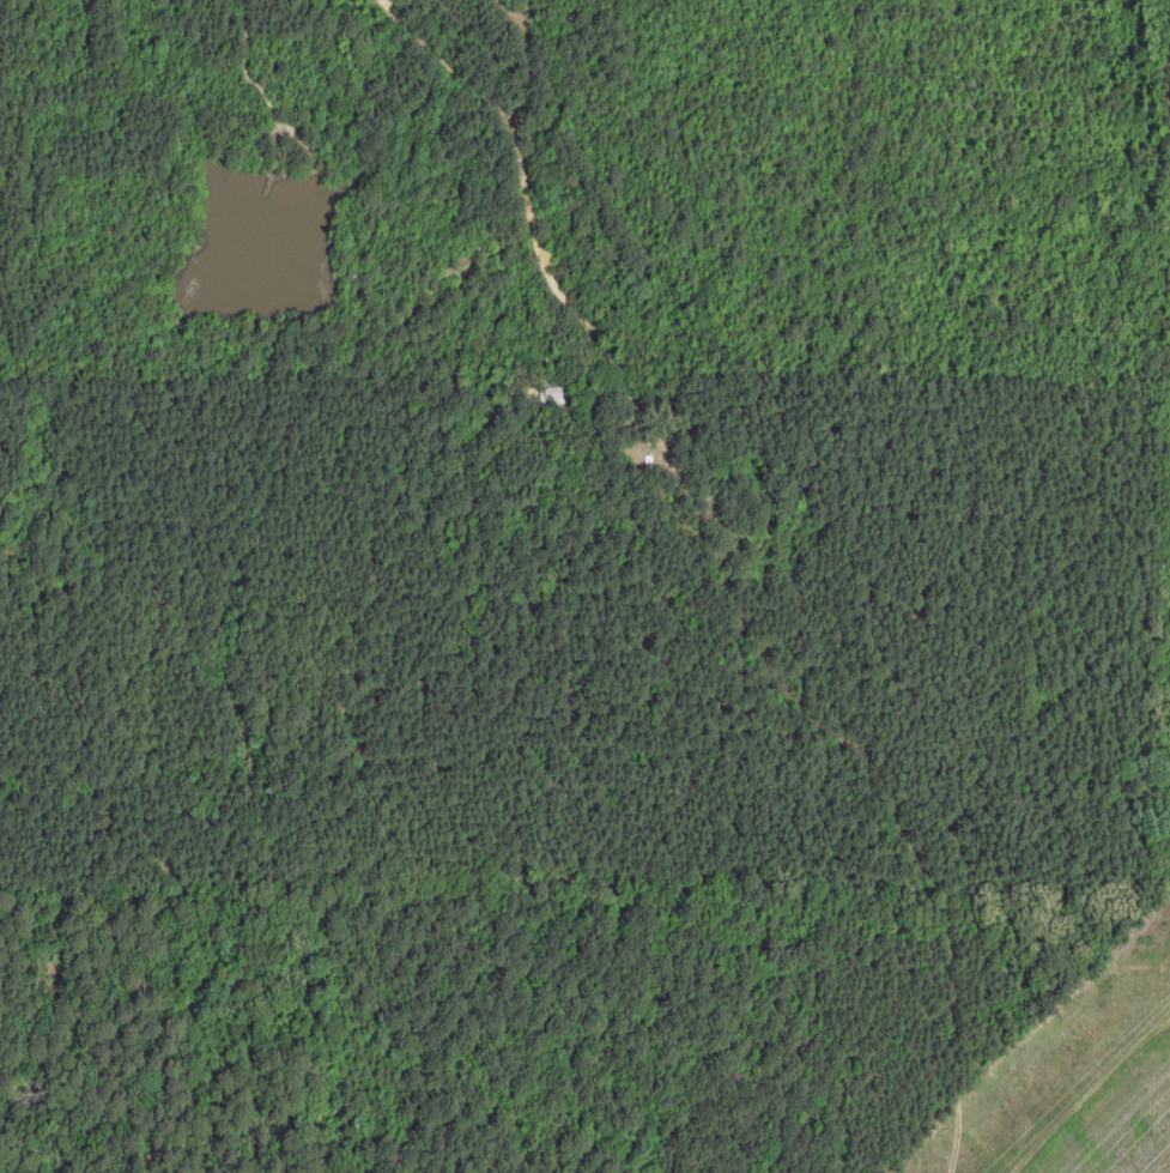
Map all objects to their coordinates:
road: (377, 41)

